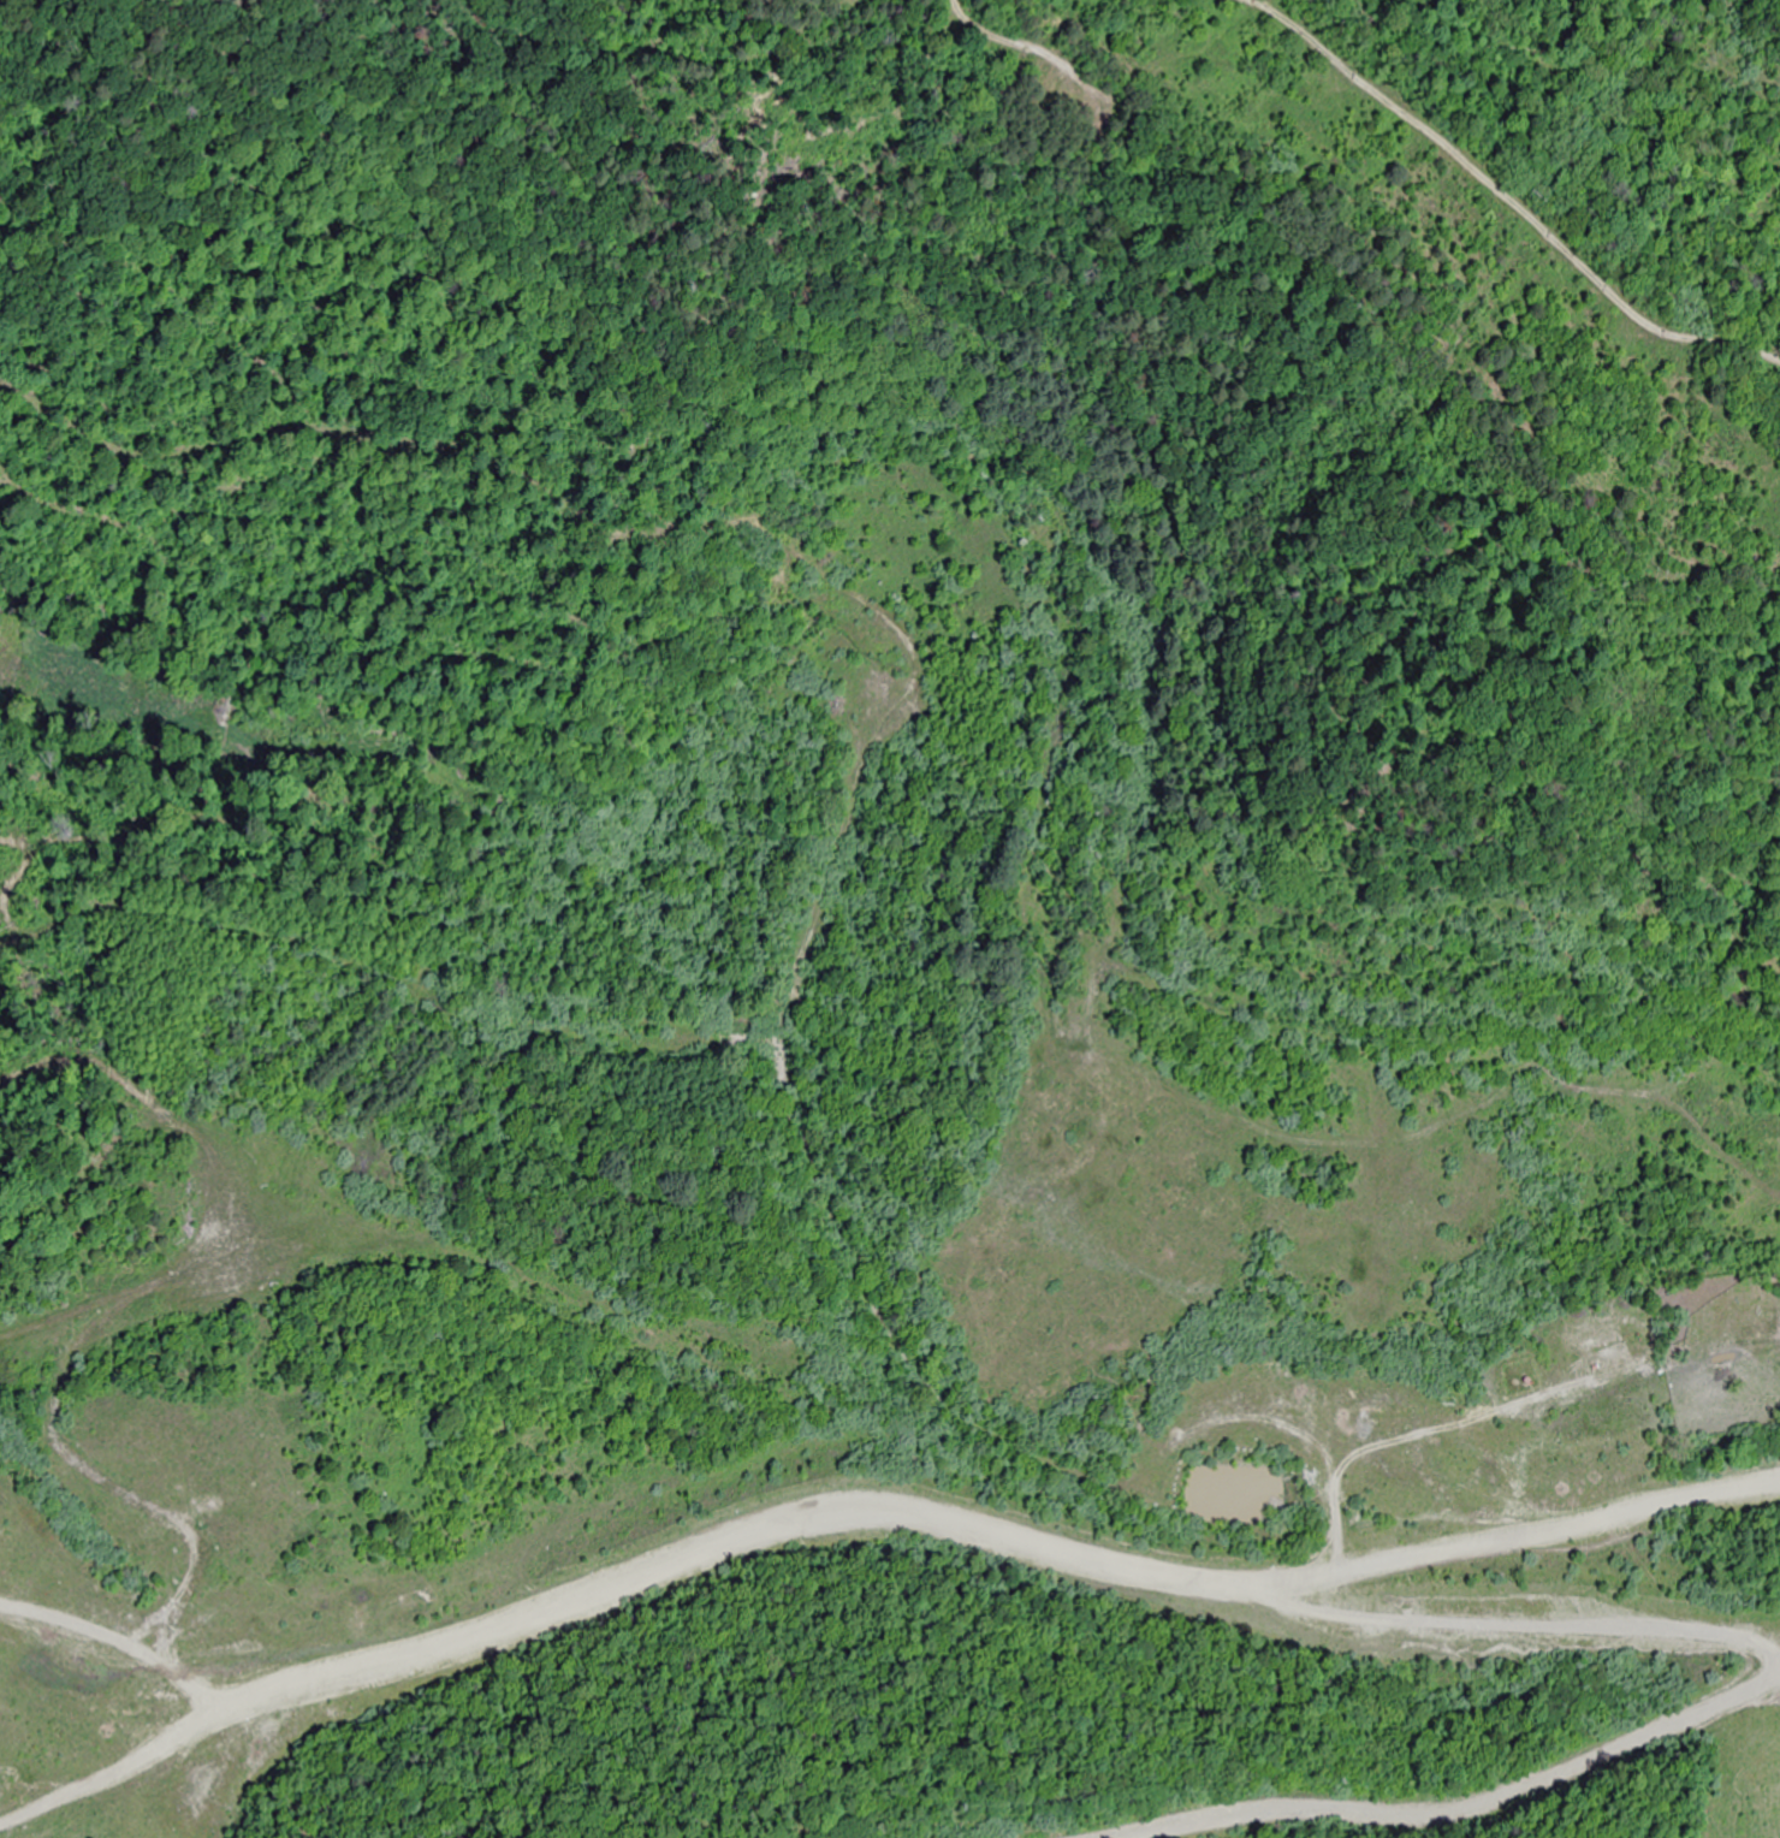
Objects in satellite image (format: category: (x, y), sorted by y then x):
building: (1274, 1601)

